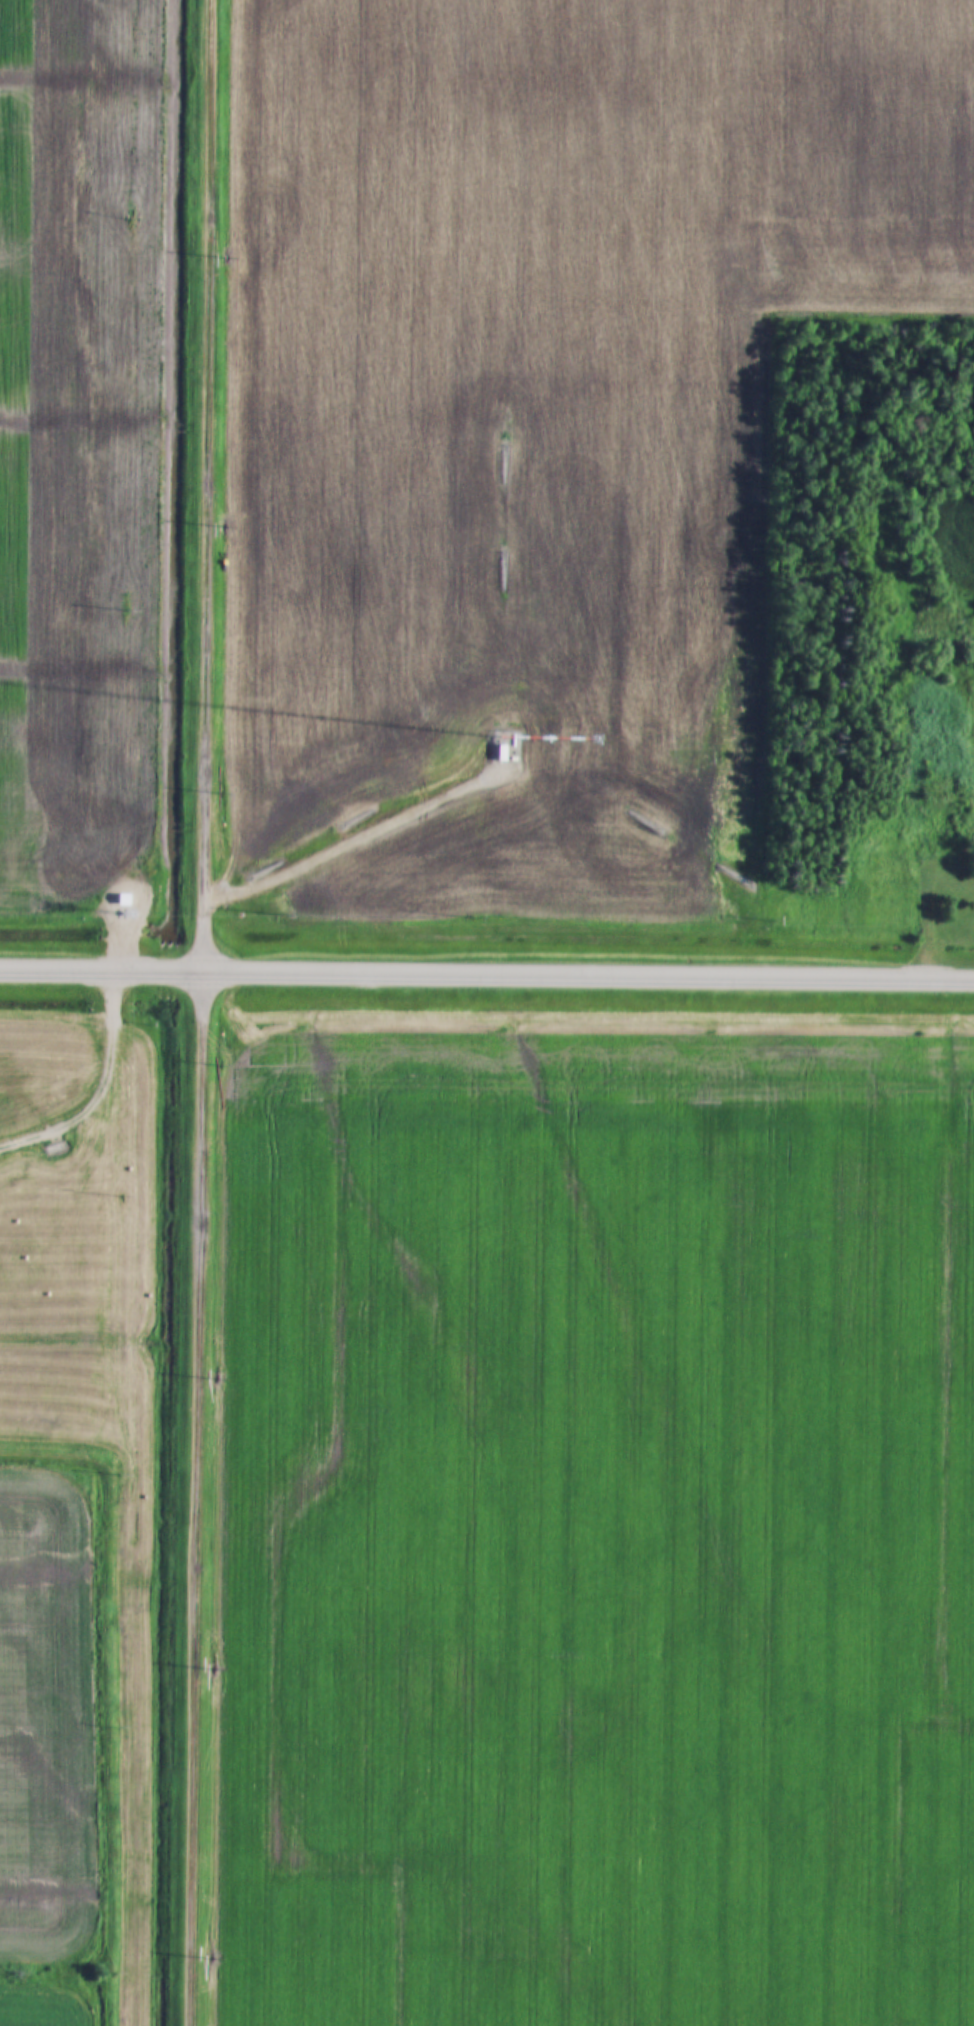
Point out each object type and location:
building: (512, 743)
building: (495, 755)
road: (355, 844)
power tower: (110, 895)
building: (127, 902)
road: (486, 975)
road: (203, 1012)
road: (102, 1093)
crop: (45, 1737)

